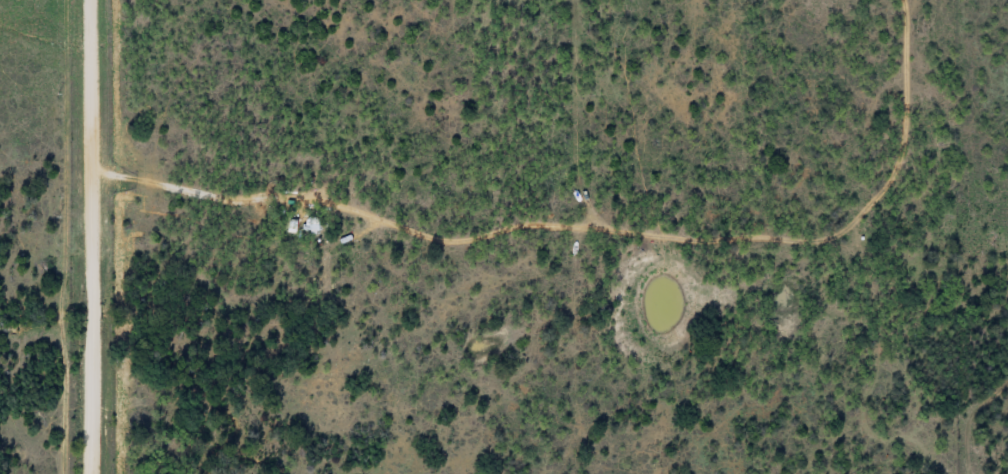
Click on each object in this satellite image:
road: (606, 210)
road: (115, 237)

